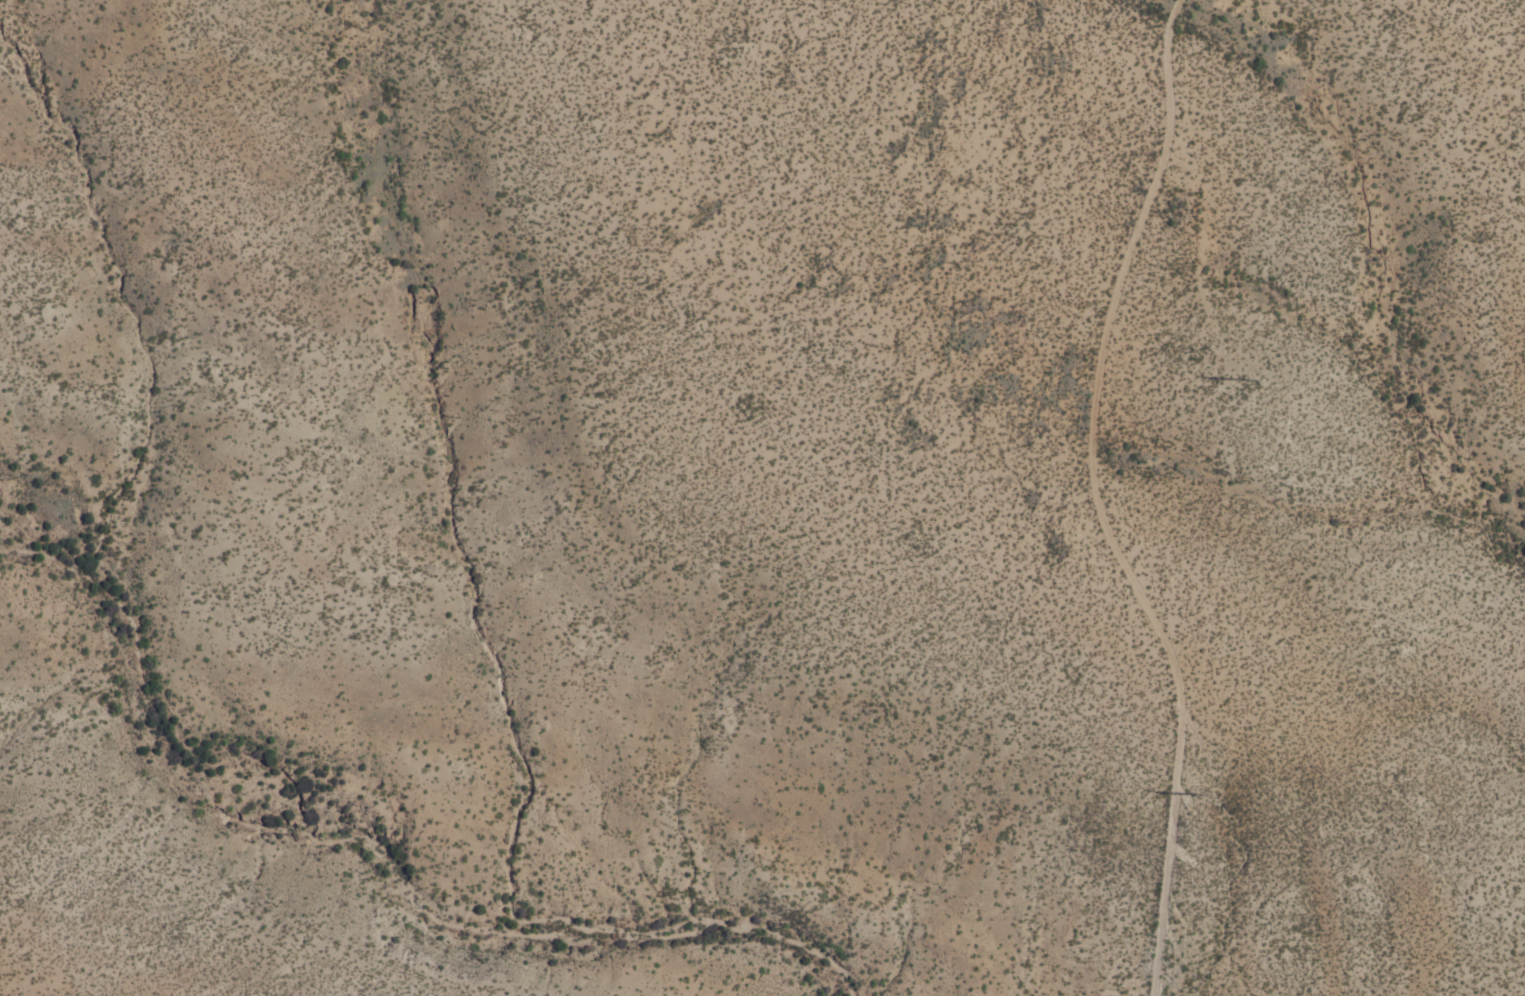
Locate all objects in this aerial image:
power tower: (1247, 377)
road: (1093, 499)
power tower: (1197, 796)

